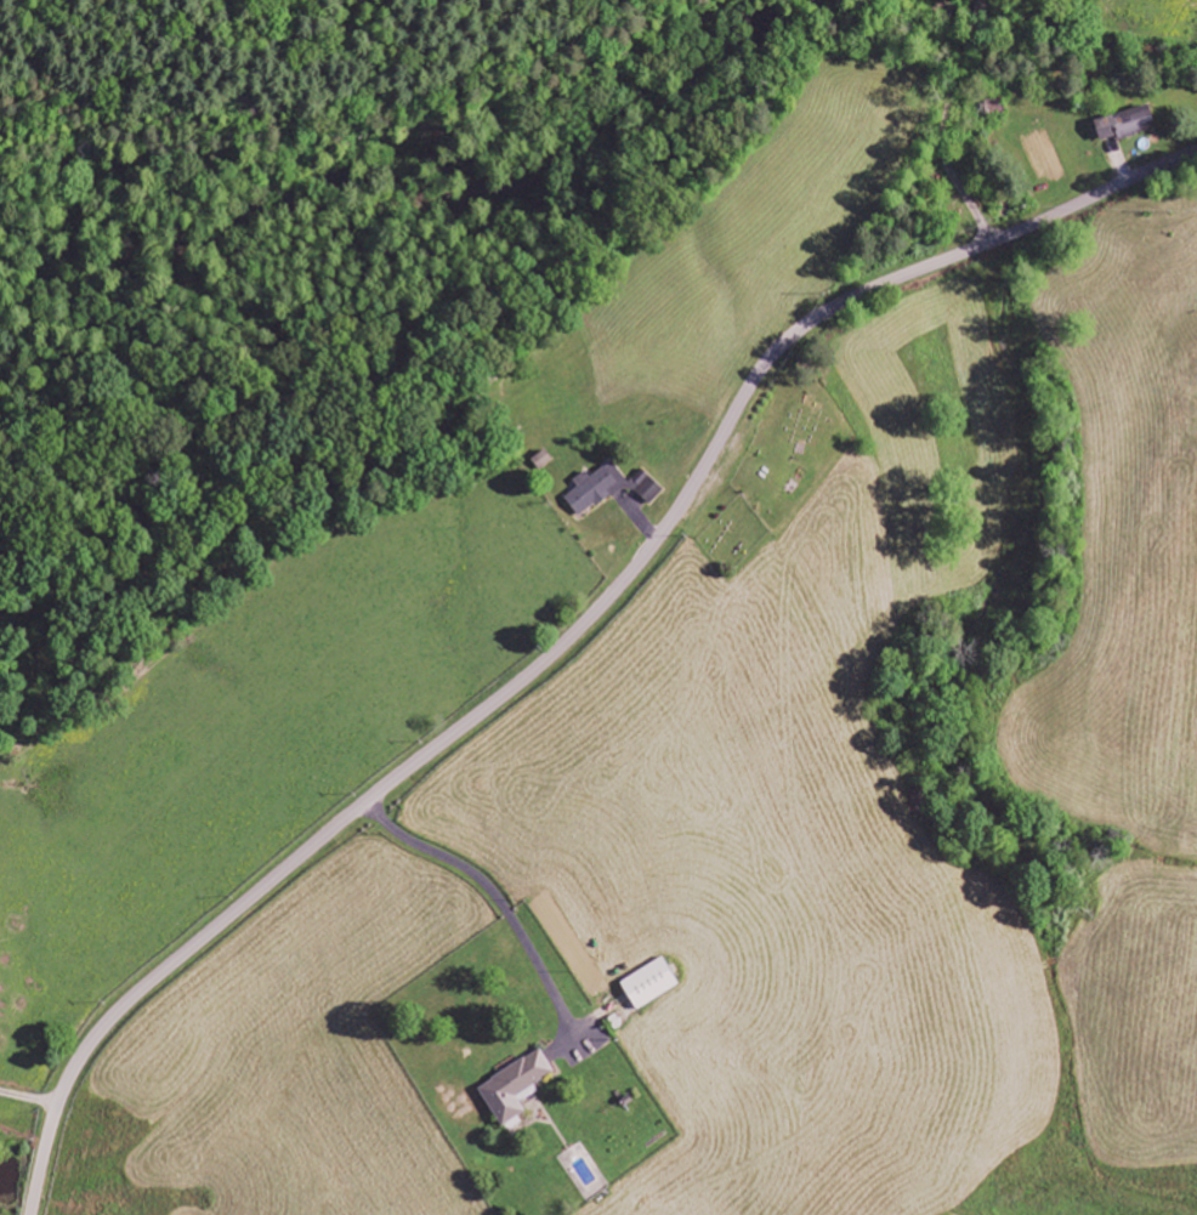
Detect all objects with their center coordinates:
building: (1127, 125)
building: (611, 488)
road: (572, 632)
road: (492, 891)
building: (651, 983)
building: (516, 1088)

